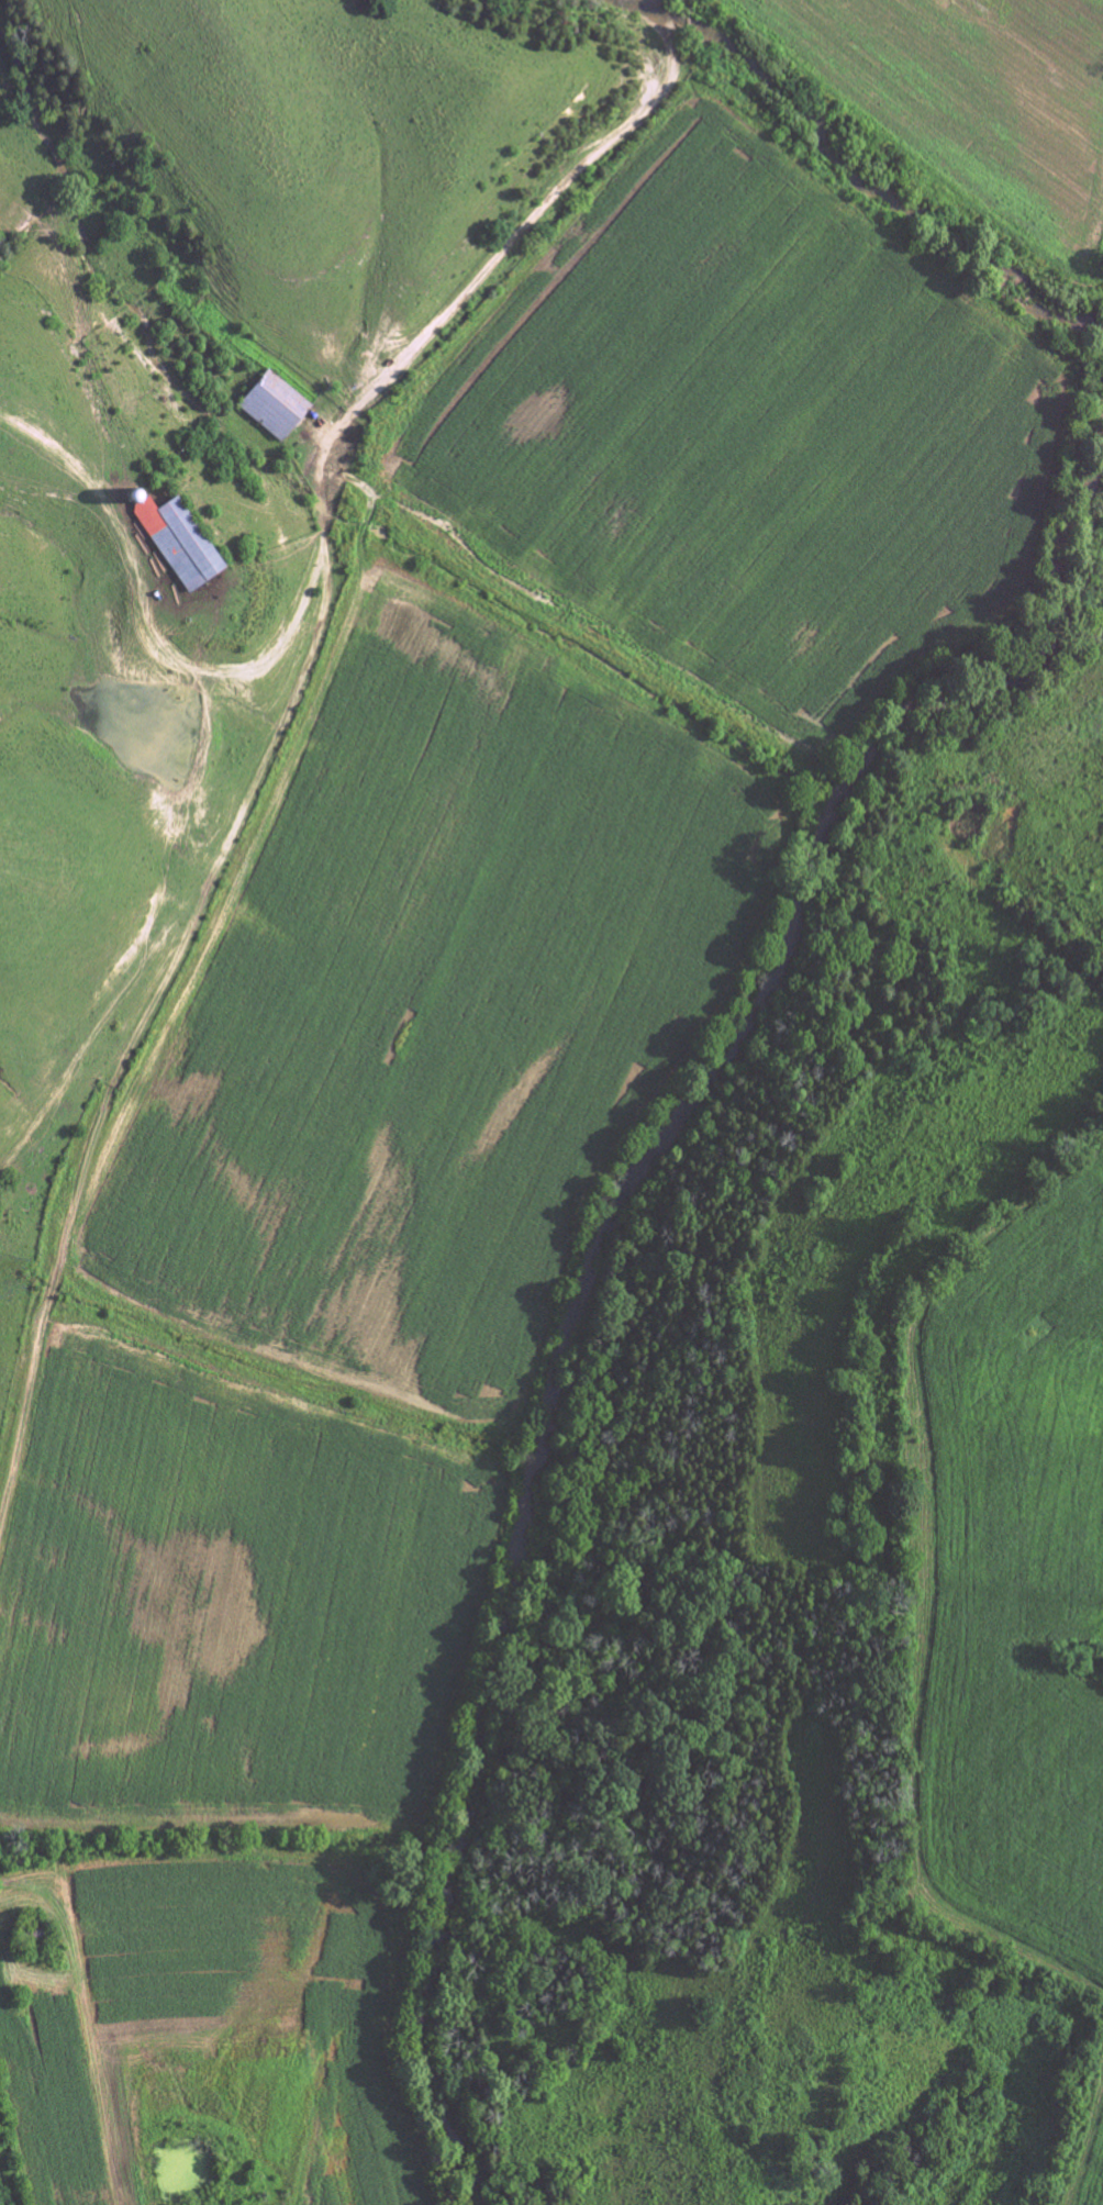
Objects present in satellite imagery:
road: (443, 321)
building: (274, 408)
building: (175, 546)

